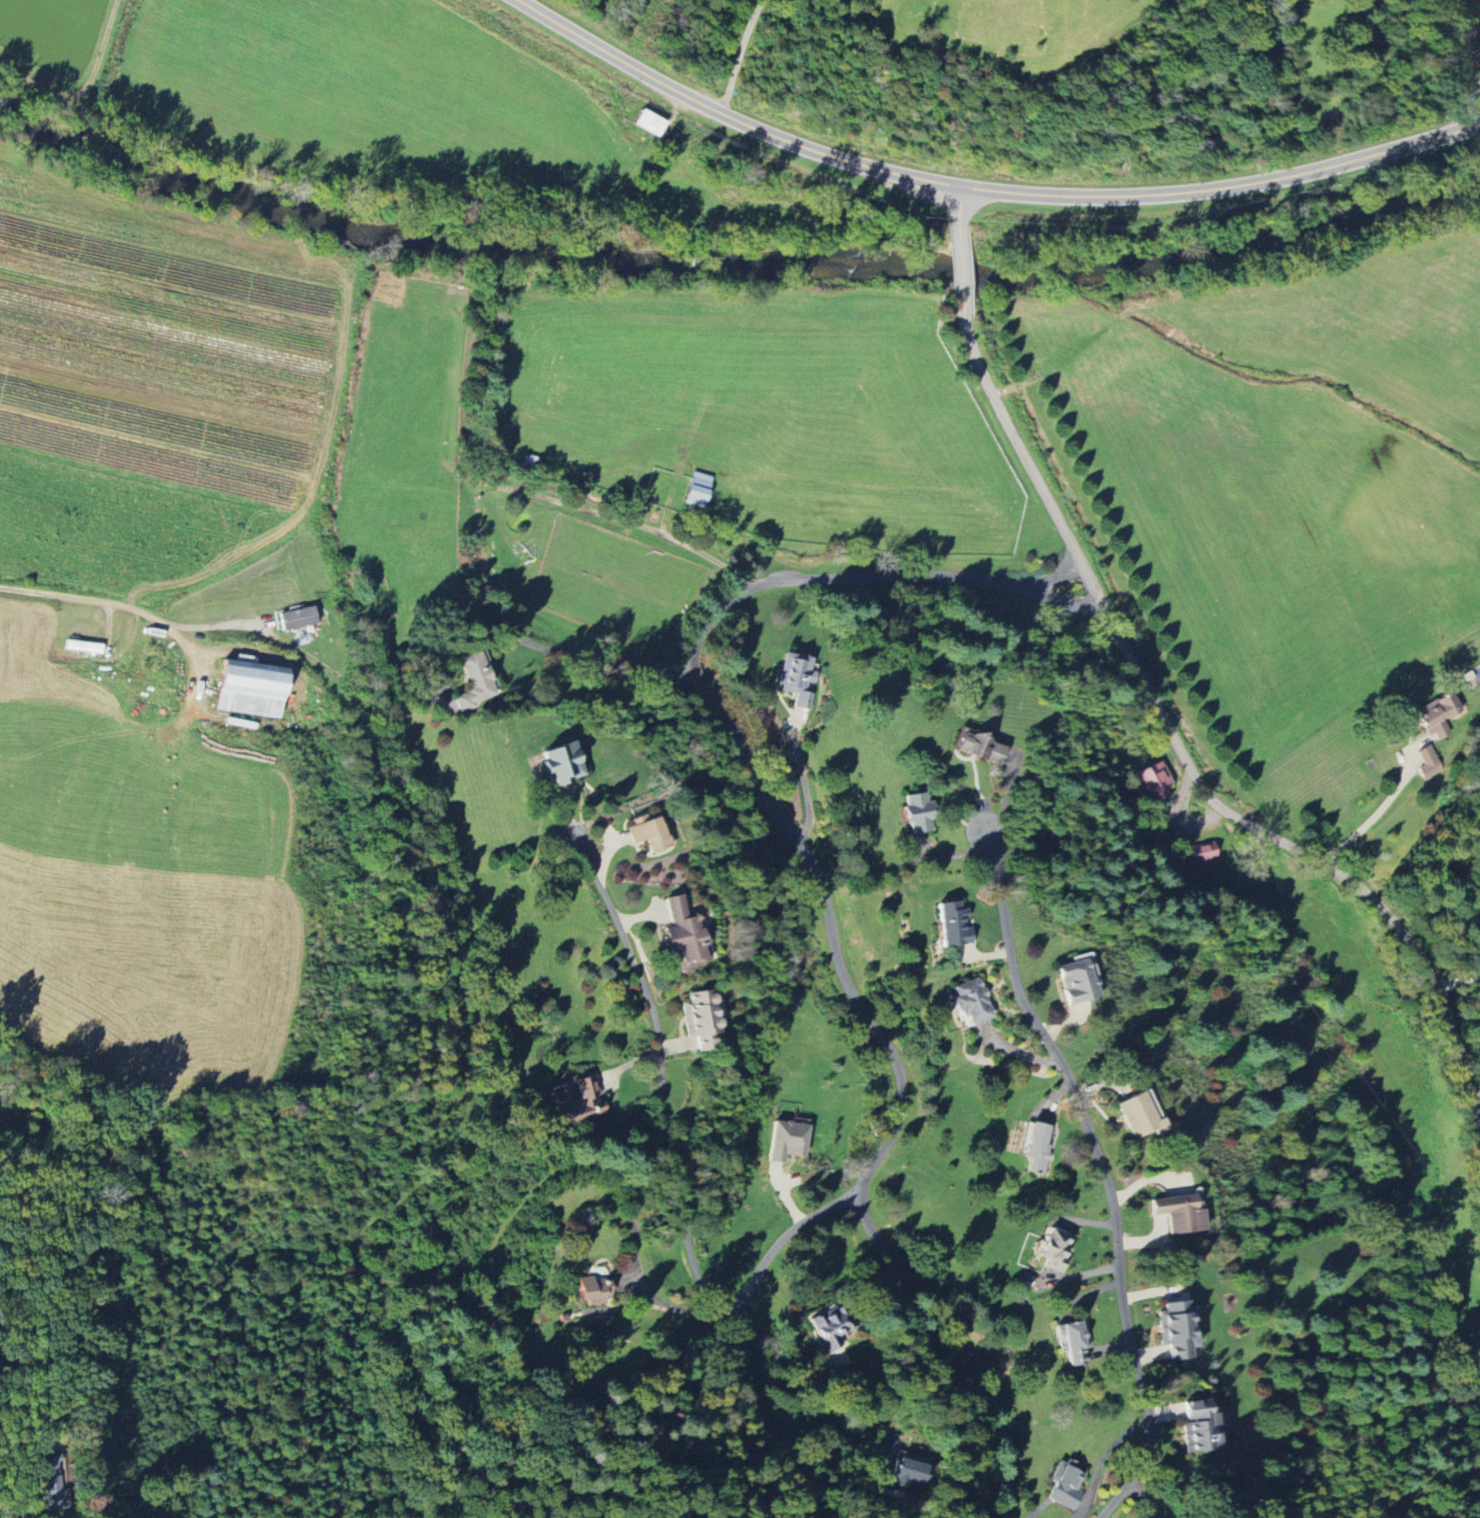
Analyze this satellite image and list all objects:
road: (984, 190)
road: (959, 206)
road: (959, 267)
building: (696, 489)
road: (639, 524)
road: (1053, 577)
road: (114, 599)
building: (296, 618)
road: (212, 619)
road: (571, 653)
building: (794, 675)
building: (473, 682)
building: (248, 688)
building: (1436, 710)
building: (979, 747)
road: (1183, 755)
building: (561, 762)
building: (1153, 781)
building: (917, 812)
road: (1370, 818)
building: (647, 832)
building: (1202, 851)
road: (819, 876)
building: (952, 924)
building: (683, 930)
building: (1076, 979)
road: (1456, 982)
building: (970, 1001)
building: (700, 1017)
road: (659, 1076)
building: (578, 1101)
building: (1139, 1116)
building: (786, 1140)
road: (1103, 1173)
building: (1178, 1213)
building: (1053, 1249)
building: (593, 1290)
road: (678, 1306)
building: (827, 1327)
building: (1176, 1328)
building: (1074, 1342)
road: (740, 1343)
road: (55, 1373)
building: (1200, 1426)
building: (904, 1470)
building: (47, 1484)
building: (1066, 1484)

